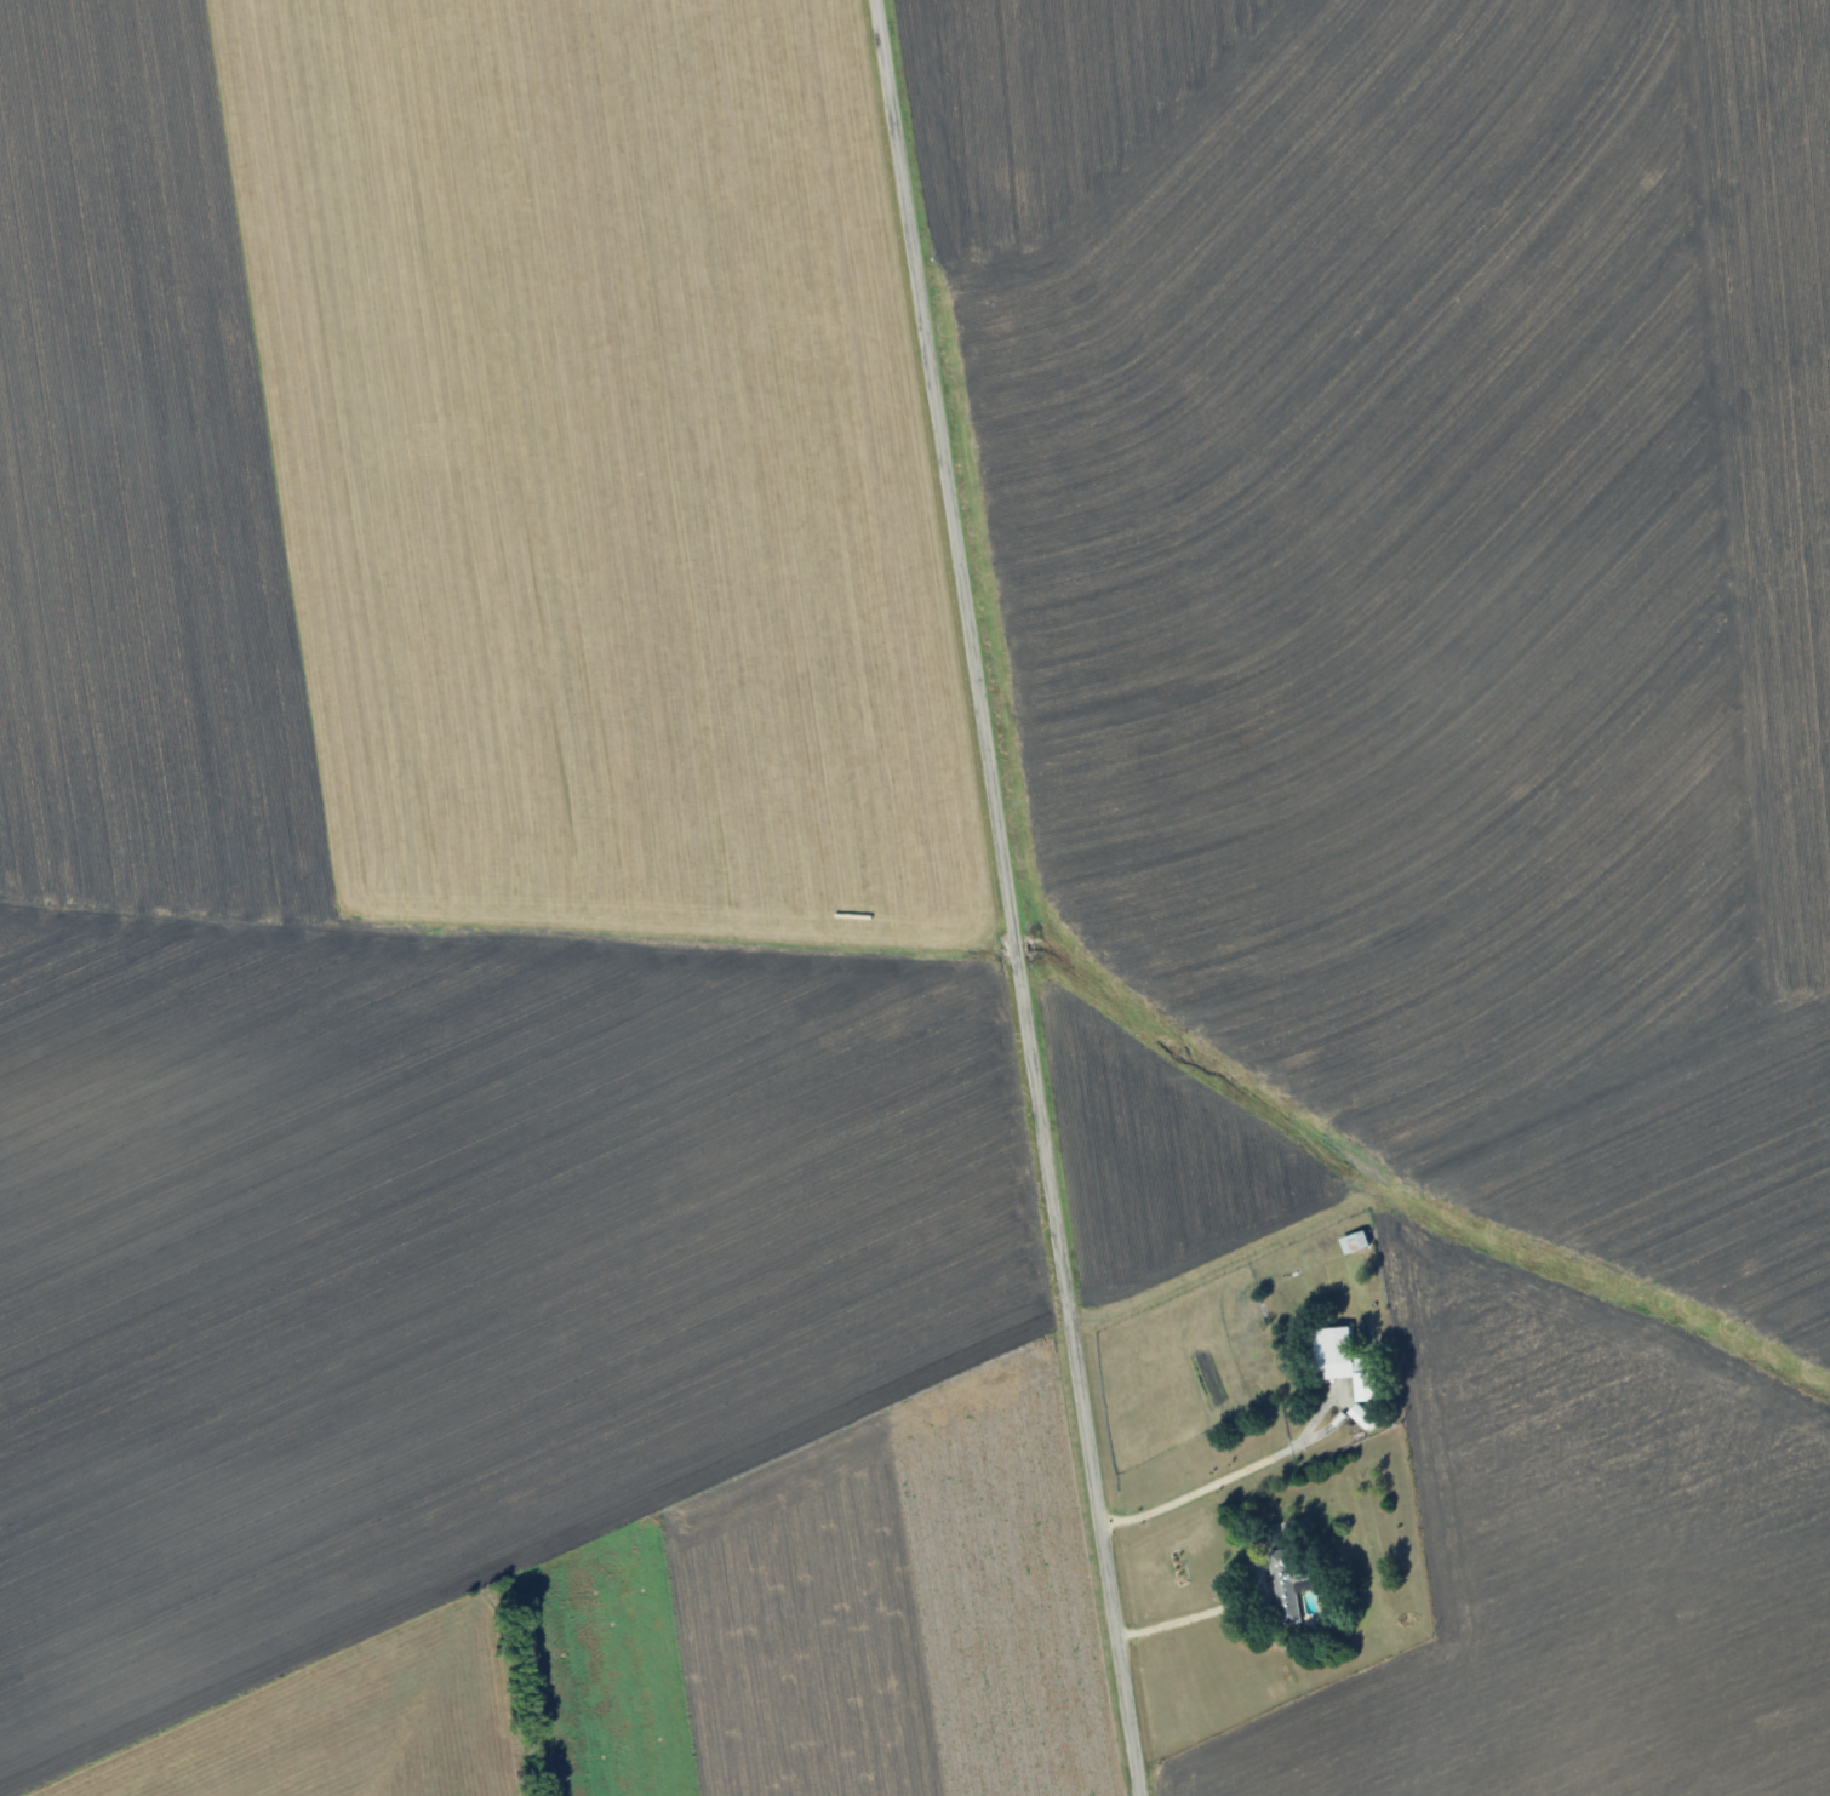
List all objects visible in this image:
road: (1010, 897)
building: (1342, 1362)
road: (1269, 1469)
building: (1285, 1590)
road: (1189, 1617)

